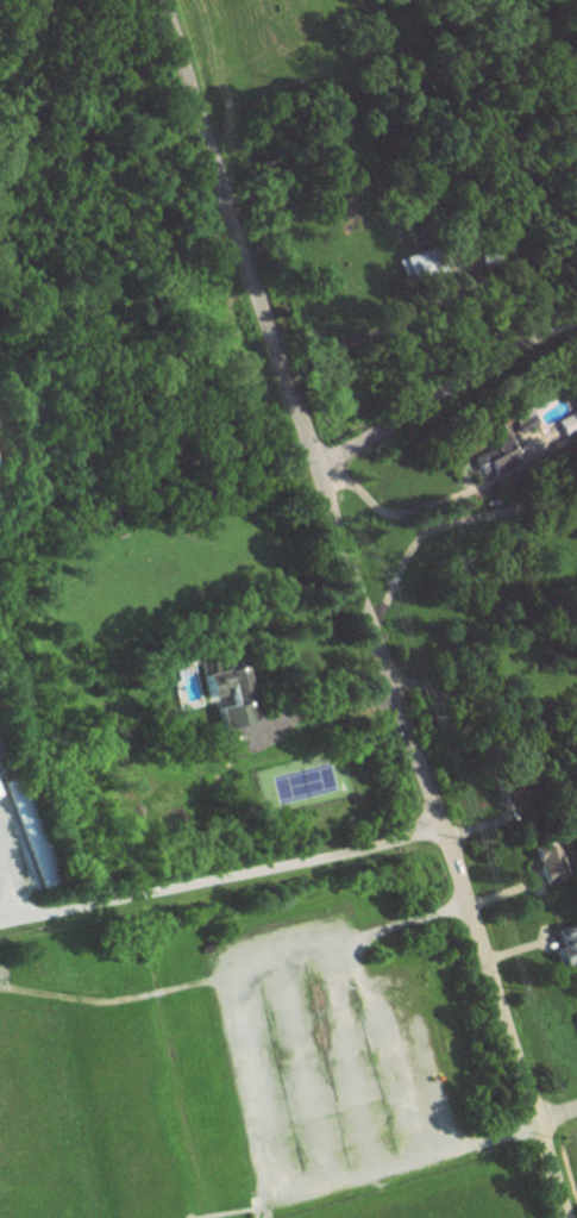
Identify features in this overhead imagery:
building: (532, 0)
road: (381, 329)
road: (444, 389)
building: (518, 423)
building: (493, 458)
road: (421, 506)
road: (444, 523)
road: (365, 610)
road: (314, 707)
road: (479, 731)
building: (0, 751)
park: (305, 785)
building: (0, 792)
building: (27, 833)
building: (551, 863)
road: (242, 873)
road: (8, 883)
road: (19, 916)
building: (566, 944)
building: (576, 1013)
road: (383, 1047)
road: (346, 1057)
road: (301, 1069)
park: (36, 1089)
road: (243, 1094)
road: (558, 1116)
park: (39, 1192)
park: (465, 1210)

